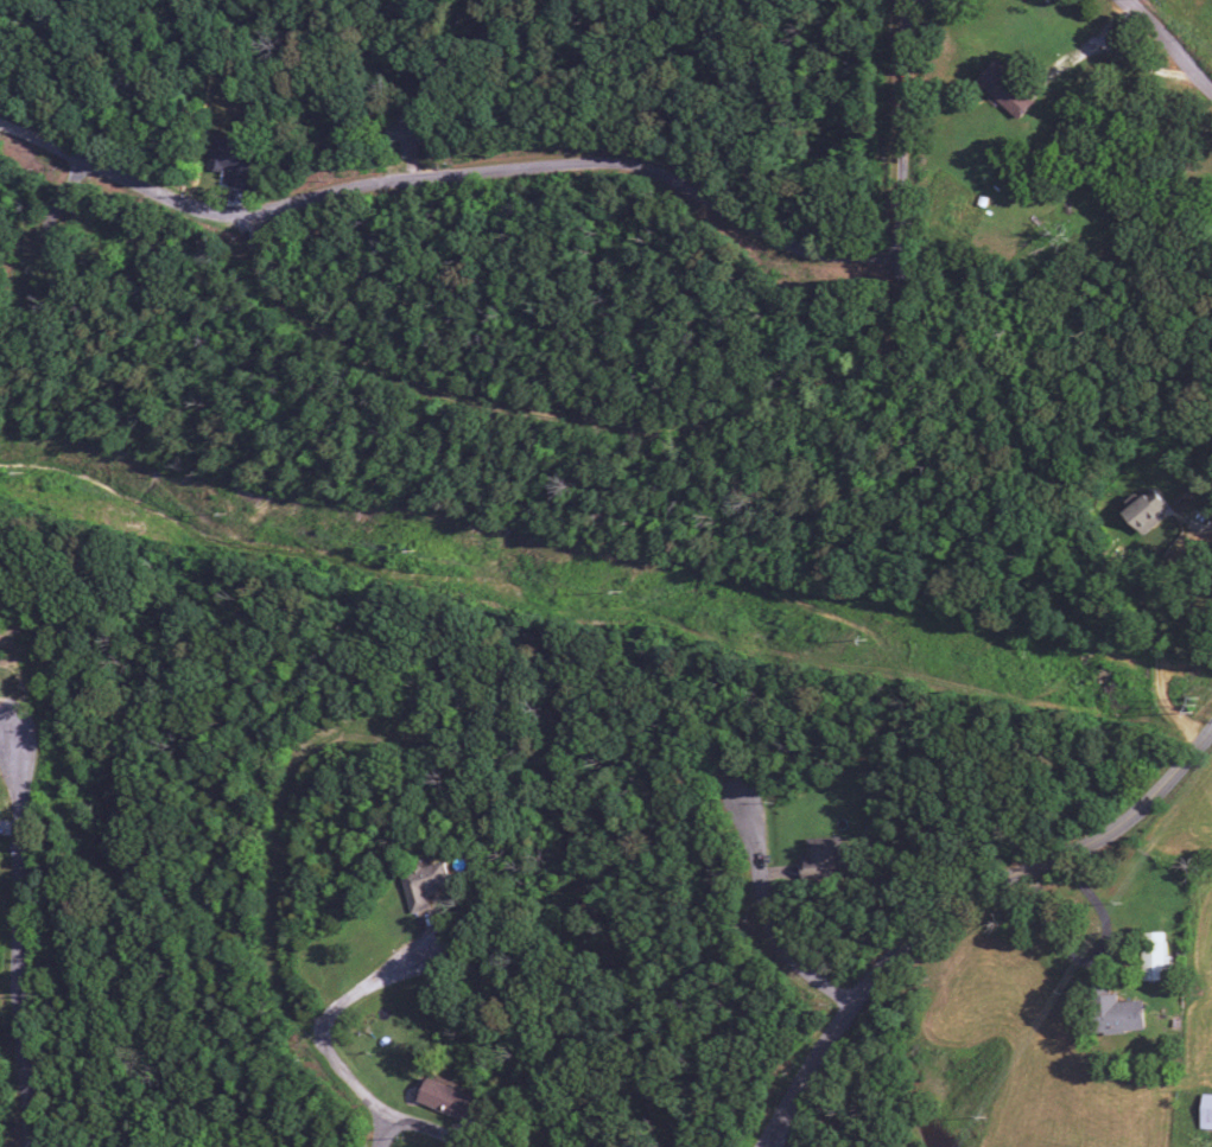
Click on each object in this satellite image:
road: (1169, 42)
building: (1005, 90)
building: (405, 133)
building: (230, 160)
road: (583, 166)
road: (121, 181)
road: (57, 218)
road: (707, 426)
building: (1143, 510)
road: (1159, 569)
building: (820, 859)
road: (956, 901)
road: (768, 913)
road: (20, 949)
road: (281, 950)
building: (1155, 958)
road: (364, 996)
building: (1117, 1014)
building: (449, 1100)
building: (1206, 1113)
road: (537, 1130)
road: (389, 1133)

